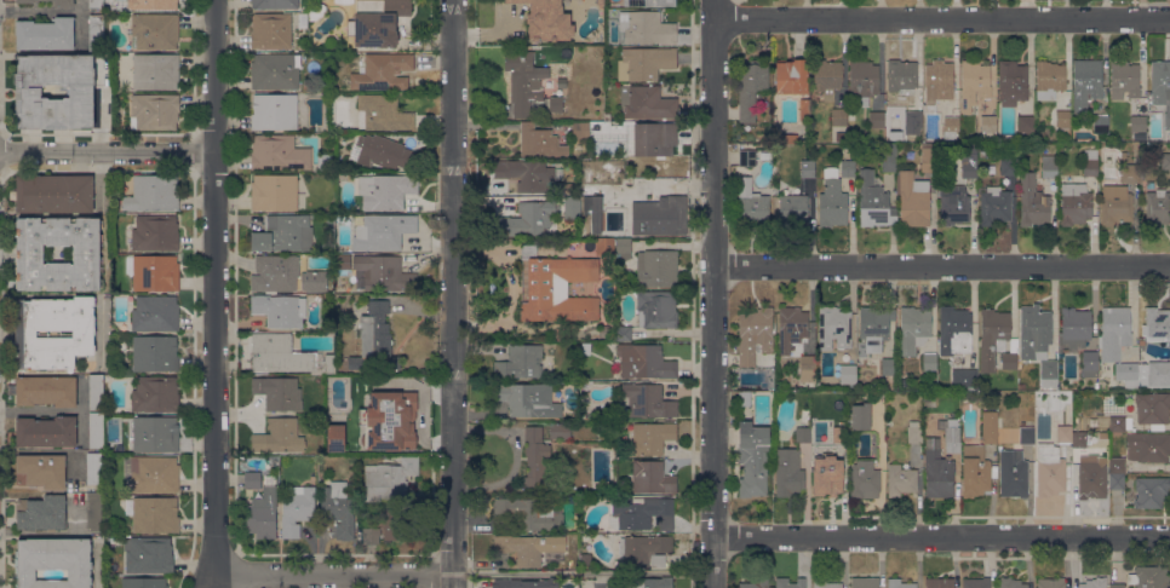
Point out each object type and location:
building: (25, 1)
building: (62, 2)
building: (649, 2)
building: (96, 4)
building: (151, 4)
building: (274, 4)
building: (316, 18)
building: (546, 19)
building: (303, 21)
road: (941, 21)
building: (377, 22)
building: (646, 28)
building: (154, 30)
building: (270, 30)
building: (94, 33)
building: (45, 34)
building: (646, 63)
building: (155, 71)
building: (274, 71)
building: (385, 71)
building: (1050, 75)
building: (791, 76)
building: (904, 76)
building: (827, 77)
building: (864, 80)
building: (1124, 80)
building: (523, 81)
building: (937, 81)
building: (1160, 81)
building: (1013, 82)
building: (1086, 82)
building: (974, 83)
building: (751, 87)
building: (28, 91)
building: (647, 102)
building: (1065, 102)
building: (555, 104)
building: (804, 110)
building: (154, 111)
building: (274, 111)
building: (383, 113)
building: (838, 116)
building: (876, 119)
building: (913, 120)
building: (1063, 121)
building: (1166, 121)
building: (1100, 123)
building: (1137, 123)
building: (1026, 125)
building: (988, 126)
building: (951, 127)
building: (580, 129)
building: (842, 136)
building: (1140, 137)
building: (653, 138)
building: (539, 142)
road: (108, 150)
building: (382, 150)
building: (279, 152)
building: (746, 157)
building: (888, 157)
building: (928, 157)
building: (1124, 157)
building: (968, 161)
building: (1164, 161)
building: (325, 162)
building: (1090, 162)
building: (1008, 166)
building: (1049, 166)
building: (614, 167)
building: (808, 168)
building: (848, 168)
building: (1129, 173)
building: (526, 174)
building: (1149, 185)
building: (385, 190)
building: (274, 191)
building: (55, 192)
building: (153, 194)
building: (912, 200)
building: (873, 201)
building: (1032, 201)
building: (832, 203)
building: (1074, 203)
building: (752, 204)
building: (953, 204)
building: (994, 206)
building: (1115, 206)
building: (572, 207)
building: (792, 207)
building: (1157, 207)
building: (593, 212)
building: (663, 217)
building: (526, 219)
building: (383, 232)
building: (154, 234)
building: (283, 234)
building: (604, 247)
building: (623, 249)
building: (30, 254)
building: (58, 254)
building: (343, 261)
building: (656, 267)
road: (941, 267)
building: (154, 272)
building: (275, 272)
building: (383, 273)
building: (314, 281)
road: (216, 288)
building: (557, 288)
road: (454, 293)
road: (712, 294)
building: (656, 309)
building: (280, 310)
building: (155, 313)
building: (1157, 323)
building: (1076, 325)
building: (874, 327)
building: (833, 328)
building: (792, 329)
building: (913, 329)
building: (954, 330)
building: (53, 332)
building: (604, 332)
building: (1034, 332)
building: (623, 333)
building: (1114, 333)
building: (755, 334)
building: (992, 336)
building: (374, 340)
building: (586, 348)
building: (154, 353)
building: (280, 353)
building: (644, 361)
building: (1009, 361)
building: (520, 362)
building: (929, 362)
building: (328, 363)
building: (1089, 363)
building: (888, 365)
building: (808, 371)
building: (1154, 371)
building: (848, 374)
building: (1049, 374)
building: (1126, 374)
building: (964, 377)
building: (359, 382)
building: (933, 385)
building: (46, 390)
building: (96, 392)
building: (279, 392)
building: (155, 394)
building: (830, 396)
building: (744, 398)
building: (527, 399)
building: (647, 400)
building: (1152, 408)
building: (842, 410)
building: (805, 411)
building: (392, 414)
building: (586, 416)
building: (860, 416)
building: (1113, 422)
building: (990, 427)
building: (560, 430)
building: (96, 431)
building: (46, 432)
building: (914, 432)
building: (803, 433)
building: (839, 433)
building: (1026, 433)
building: (1063, 433)
building: (155, 434)
building: (952, 436)
building: (279, 437)
building: (650, 437)
building: (1079, 440)
building: (333, 442)
building: (1149, 448)
building: (535, 459)
building: (752, 459)
building: (1117, 465)
building: (93, 468)
building: (41, 471)
building: (975, 471)
building: (1049, 471)
building: (787, 472)
building: (1013, 473)
building: (154, 474)
building: (939, 474)
building: (652, 477)
building: (1091, 477)
building: (827, 478)
building: (252, 479)
building: (388, 479)
building: (864, 479)
building: (901, 479)
building: (1117, 480)
building: (1151, 491)
building: (575, 505)
building: (338, 508)
building: (297, 509)
building: (40, 512)
building: (93, 512)
building: (528, 512)
building: (640, 513)
building: (154, 514)
building: (262, 514)
building: (397, 525)
road: (52, 531)
building: (371, 535)
building: (614, 536)
road: (940, 538)
building: (528, 547)
building: (644, 549)
building: (149, 555)
building: (586, 559)
building: (53, 561)
road: (334, 573)
building: (1148, 577)
building: (781, 580)
building: (143, 582)
building: (650, 582)
building: (756, 582)
building: (865, 582)
building: (939, 582)
building: (975, 582)
building: (1010, 582)
building: (1050, 582)
building: (521, 583)
building: (824, 583)
building: (900, 583)
building: (1094, 583)
building: (1117, 586)

